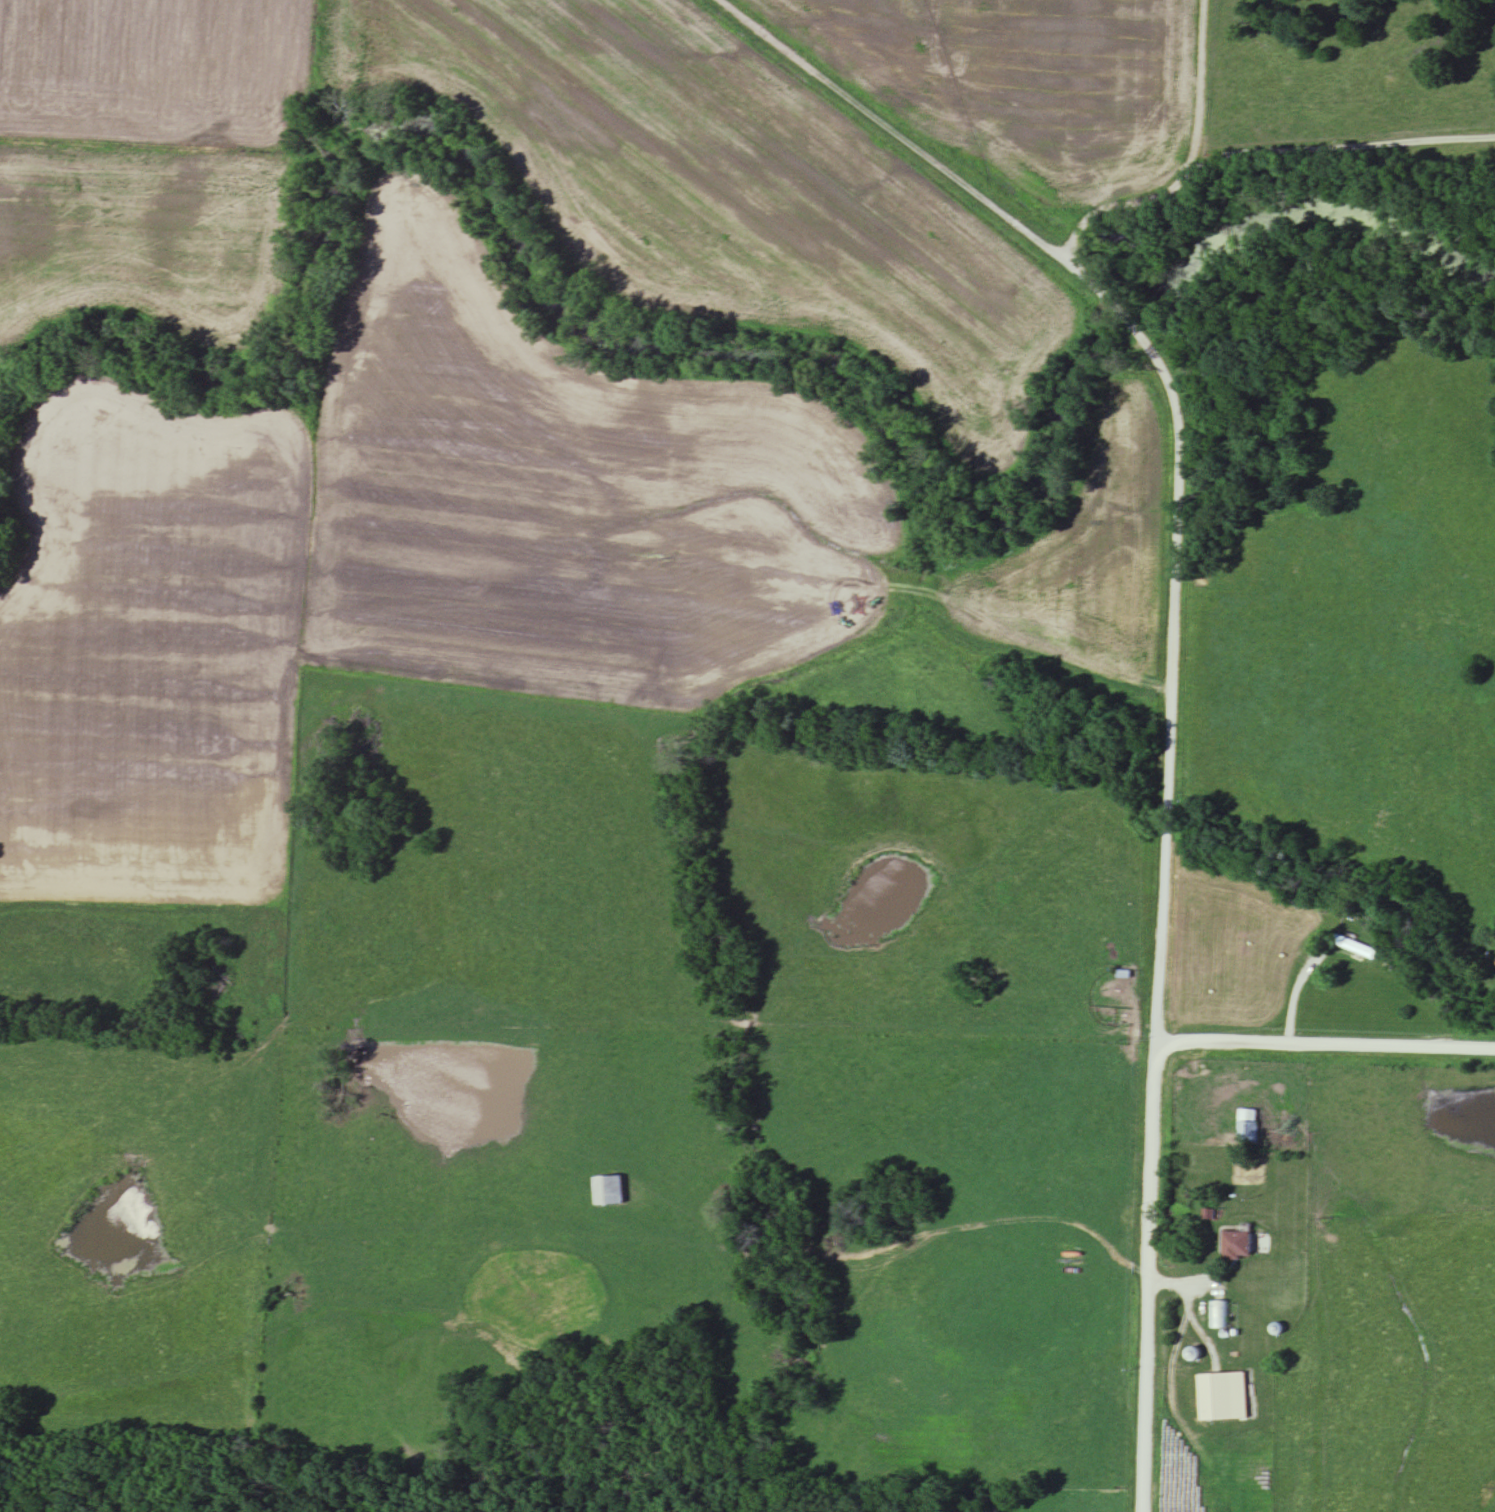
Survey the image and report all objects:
crop: (161, 69)
crop: (1029, 77)
road: (1204, 85)
road: (1260, 150)
crop: (727, 184)
road: (971, 194)
crop: (143, 229)
building: (1305, 943)
building: (1354, 948)
road: (1157, 972)
road: (1404, 987)
road: (1323, 1046)
building: (1247, 1127)
building: (608, 1191)
building: (1236, 1246)
road: (899, 1248)
building: (1219, 1315)

